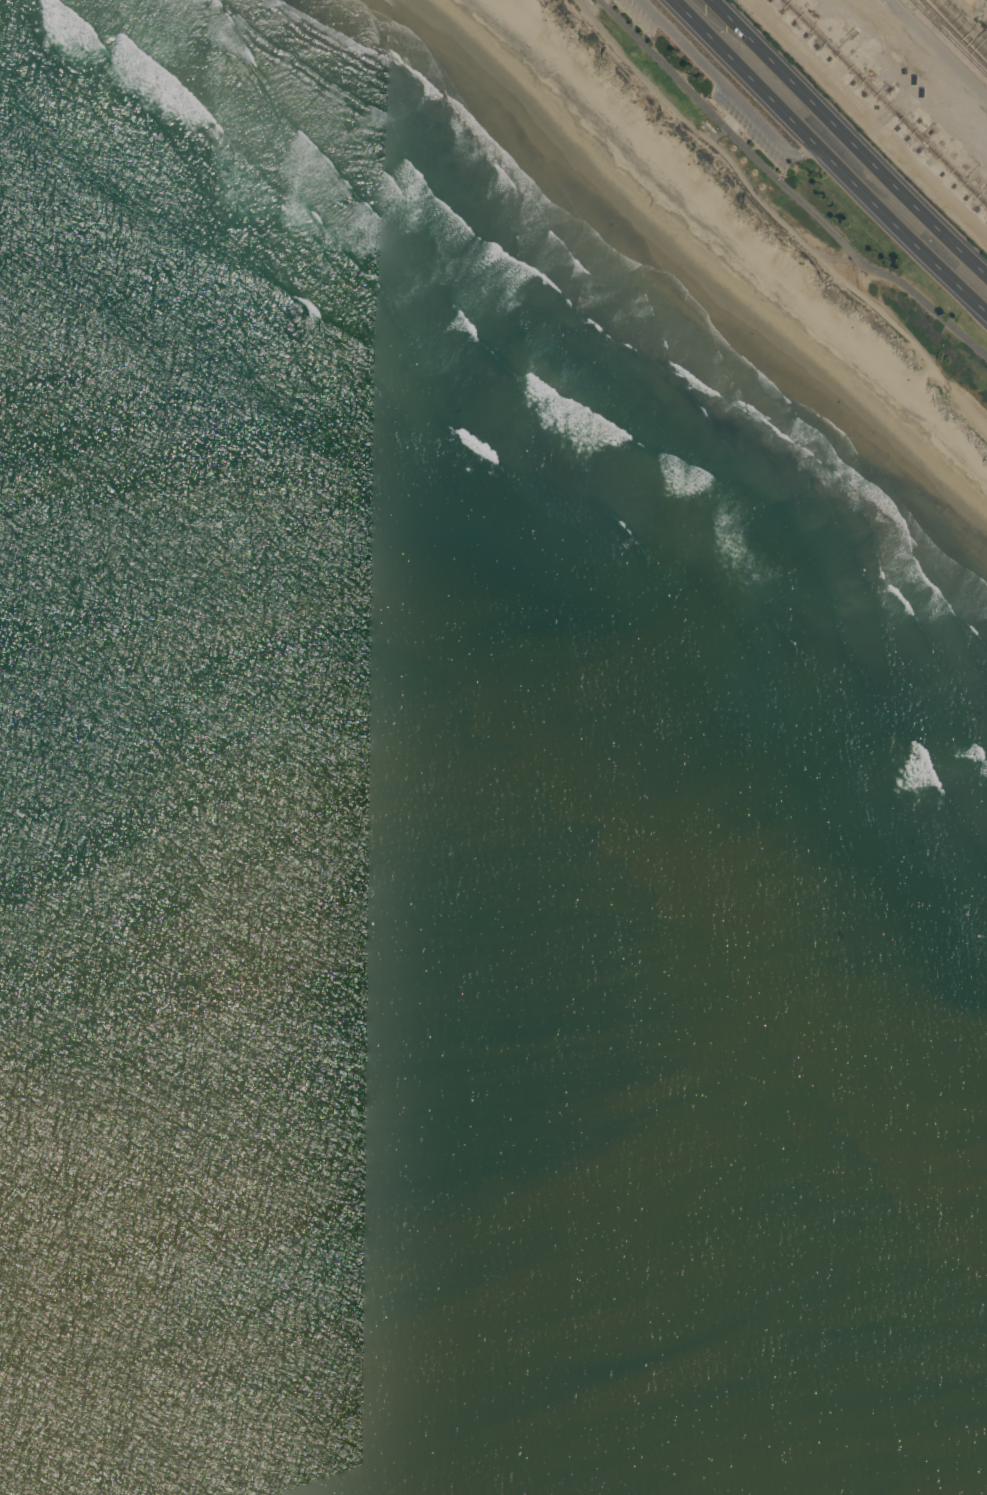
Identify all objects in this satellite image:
road: (939, 48)
road: (718, 76)
road: (870, 118)
parking lot: (754, 123)
road: (851, 135)
road: (806, 154)
road: (829, 157)
road: (789, 187)

